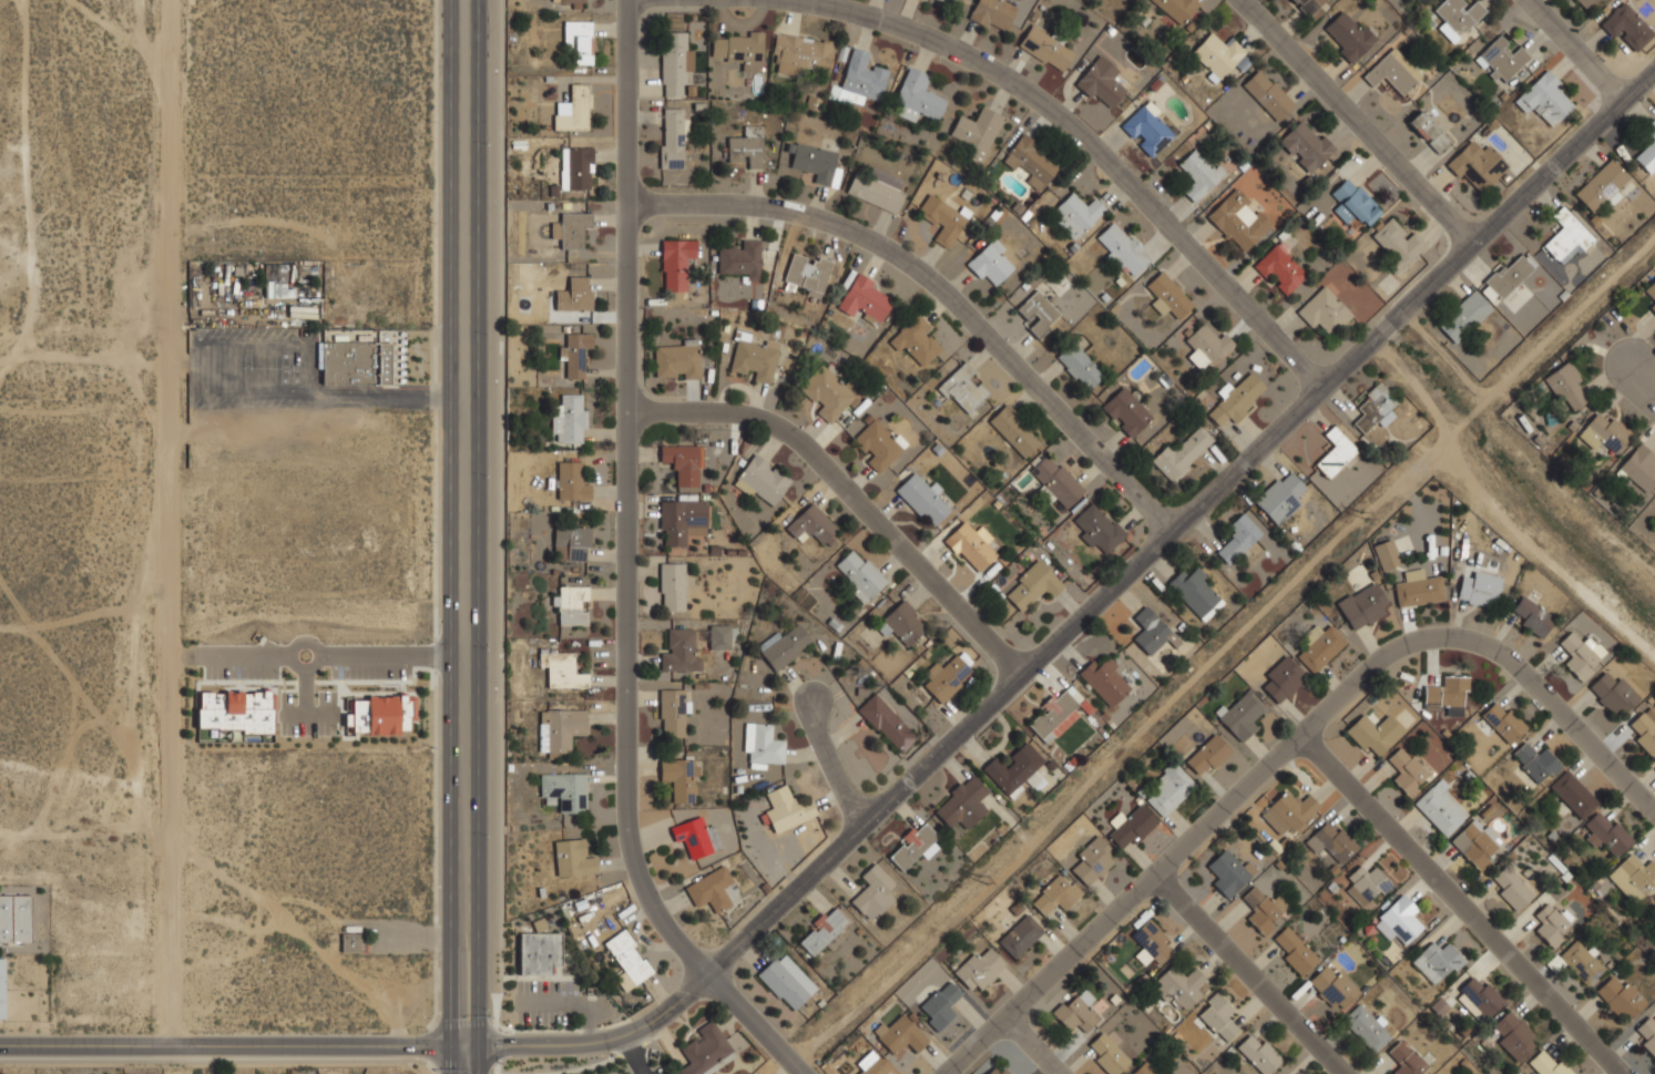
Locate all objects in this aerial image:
building: (566, 2)
building: (1585, 3)
building: (1308, 6)
building: (1176, 9)
building: (991, 13)
building: (1457, 17)
building: (1626, 25)
building: (1347, 34)
building: (579, 41)
building: (1045, 48)
building: (738, 50)
road: (1576, 51)
building: (799, 52)
building: (1219, 53)
building: (1500, 59)
building: (674, 63)
building: (1393, 72)
building: (860, 79)
building: (1100, 82)
building: (918, 94)
building: (1268, 94)
building: (1544, 98)
building: (573, 109)
road: (1356, 123)
building: (975, 129)
building: (1146, 130)
building: (1428, 132)
building: (672, 137)
road: (1090, 144)
building: (1306, 145)
building: (747, 146)
building: (1646, 151)
building: (1030, 162)
building: (816, 163)
building: (1477, 166)
building: (576, 167)
building: (1198, 173)
building: (1603, 185)
building: (876, 188)
building: (1353, 203)
building: (1076, 214)
building: (941, 217)
building: (1238, 219)
building: (570, 228)
building: (1565, 236)
building: (1397, 243)
building: (1122, 248)
building: (739, 258)
building: (675, 263)
building: (991, 263)
building: (1280, 268)
building: (806, 274)
building: (1506, 275)
road: (942, 287)
building: (574, 294)
building: (1165, 295)
building: (1651, 297)
building: (865, 299)
building: (1324, 310)
building: (1038, 313)
building: (1463, 316)
building: (916, 340)
road: (265, 345)
building: (1206, 347)
building: (573, 354)
building: (676, 359)
building: (754, 360)
road: (182, 362)
building: (356, 362)
building: (1079, 366)
building: (1566, 386)
building: (963, 388)
road: (1643, 389)
road: (307, 392)
building: (826, 392)
building: (1236, 399)
building: (1372, 407)
building: (1126, 412)
building: (568, 419)
building: (1013, 430)
building: (1603, 431)
building: (876, 444)
building: (1335, 452)
building: (1181, 453)
building: (682, 462)
building: (1639, 467)
building: (570, 481)
building: (762, 481)
building: (1055, 481)
road: (849, 492)
building: (1280, 495)
building: (921, 498)
power tower: (1363, 515)
building: (682, 520)
road: (172, 524)
building: (811, 525)
building: (1099, 529)
road: (451, 536)
road: (478, 536)
building: (1237, 538)
building: (571, 543)
building: (970, 545)
building: (1386, 554)
road: (627, 567)
building: (859, 574)
building: (1031, 585)
building: (671, 586)
building: (1419, 587)
building: (1479, 587)
building: (1195, 592)
building: (571, 604)
building: (1363, 606)
road: (1089, 610)
building: (1531, 615)
building: (901, 622)
building: (719, 636)
building: (1155, 637)
road: (297, 642)
building: (784, 645)
building: (1320, 646)
building: (680, 651)
road: (231, 653)
road: (384, 654)
building: (1581, 654)
building: (561, 669)
building: (947, 677)
building: (1283, 679)
building: (1105, 681)
building: (1448, 694)
building: (1612, 694)
road: (302, 704)
building: (235, 712)
building: (672, 712)
road: (292, 714)
building: (1054, 714)
building: (379, 715)
building: (1239, 715)
building: (1503, 720)
building: (883, 722)
building: (560, 730)
building: (1373, 733)
building: (1643, 733)
building: (762, 744)
road: (1290, 748)
building: (1208, 755)
road: (831, 759)
building: (1535, 763)
building: (1654, 768)
building: (1015, 769)
building: (1407, 771)
building: (680, 777)
building: (1169, 789)
building: (563, 790)
building: (1573, 794)
building: (962, 802)
building: (785, 808)
building: (1440, 810)
building: (1287, 811)
building: (1131, 826)
building: (1606, 831)
building: (695, 837)
building: (1332, 841)
building: (1475, 842)
building: (912, 845)
building: (573, 858)
building: (1091, 862)
building: (1229, 873)
building: (1634, 878)
power tower: (983, 881)
building: (1368, 882)
building: (1511, 888)
building: (713, 890)
building: (872, 892)
building: (1055, 894)
building: (1654, 899)
road: (1460, 906)
building: (1264, 910)
building: (14, 919)
building: (1398, 920)
building: (1551, 924)
building: (821, 931)
building: (1019, 935)
building: (349, 942)
building: (1151, 943)
building: (539, 950)
building: (1293, 950)
building: (627, 959)
building: (1437, 962)
building: (1581, 962)
building: (979, 969)
road: (1249, 974)
building: (786, 982)
building: (1178, 986)
building: (1331, 986)
building: (2, 988)
building: (1480, 995)
building: (1620, 999)
building: (939, 1005)
building: (1076, 1011)
building: (1217, 1016)
building: (1366, 1027)
building: (901, 1033)
building: (1645, 1034)
building: (1514, 1035)
traffic signals: (450, 1046)
traffic signals: (478, 1046)
road: (1031, 1046)
road: (238, 1047)
road: (497, 1050)
building: (705, 1051)
building: (1258, 1053)
building: (1106, 1054)
building: (1407, 1060)
building: (1546, 1063)
building: (872, 1065)
road: (780, 1066)
building: (1144, 1068)
building: (998, 1070)

